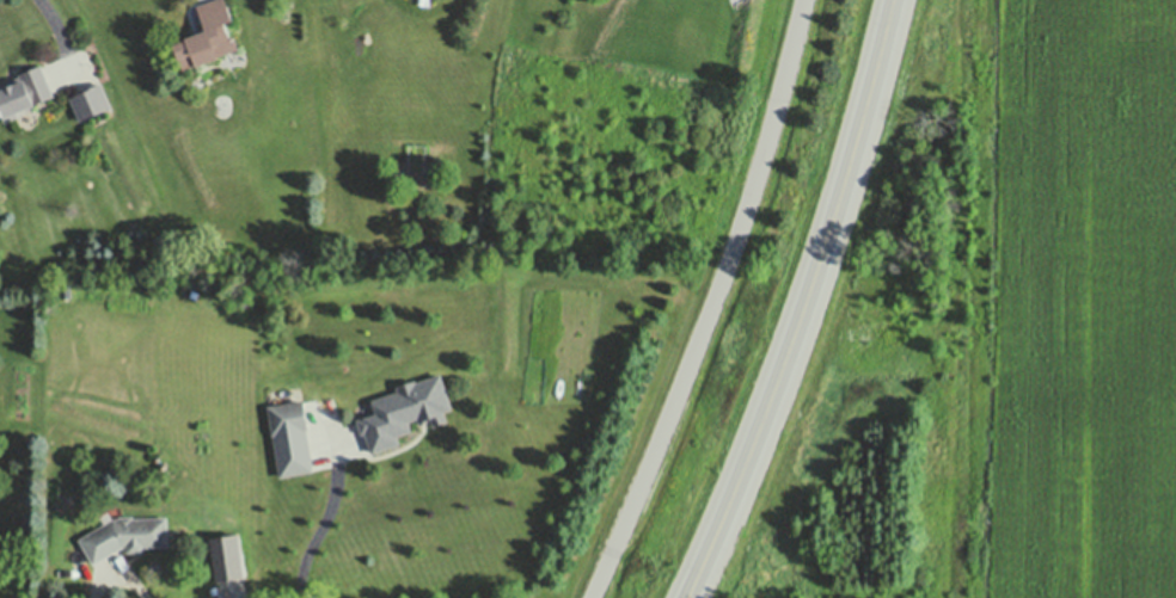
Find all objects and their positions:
road: (62, 29)
building: (207, 32)
building: (24, 86)
building: (91, 97)
road: (712, 303)
road: (806, 303)
crop: (1079, 303)
building: (405, 406)
building: (290, 433)
road: (324, 522)
building: (125, 532)

